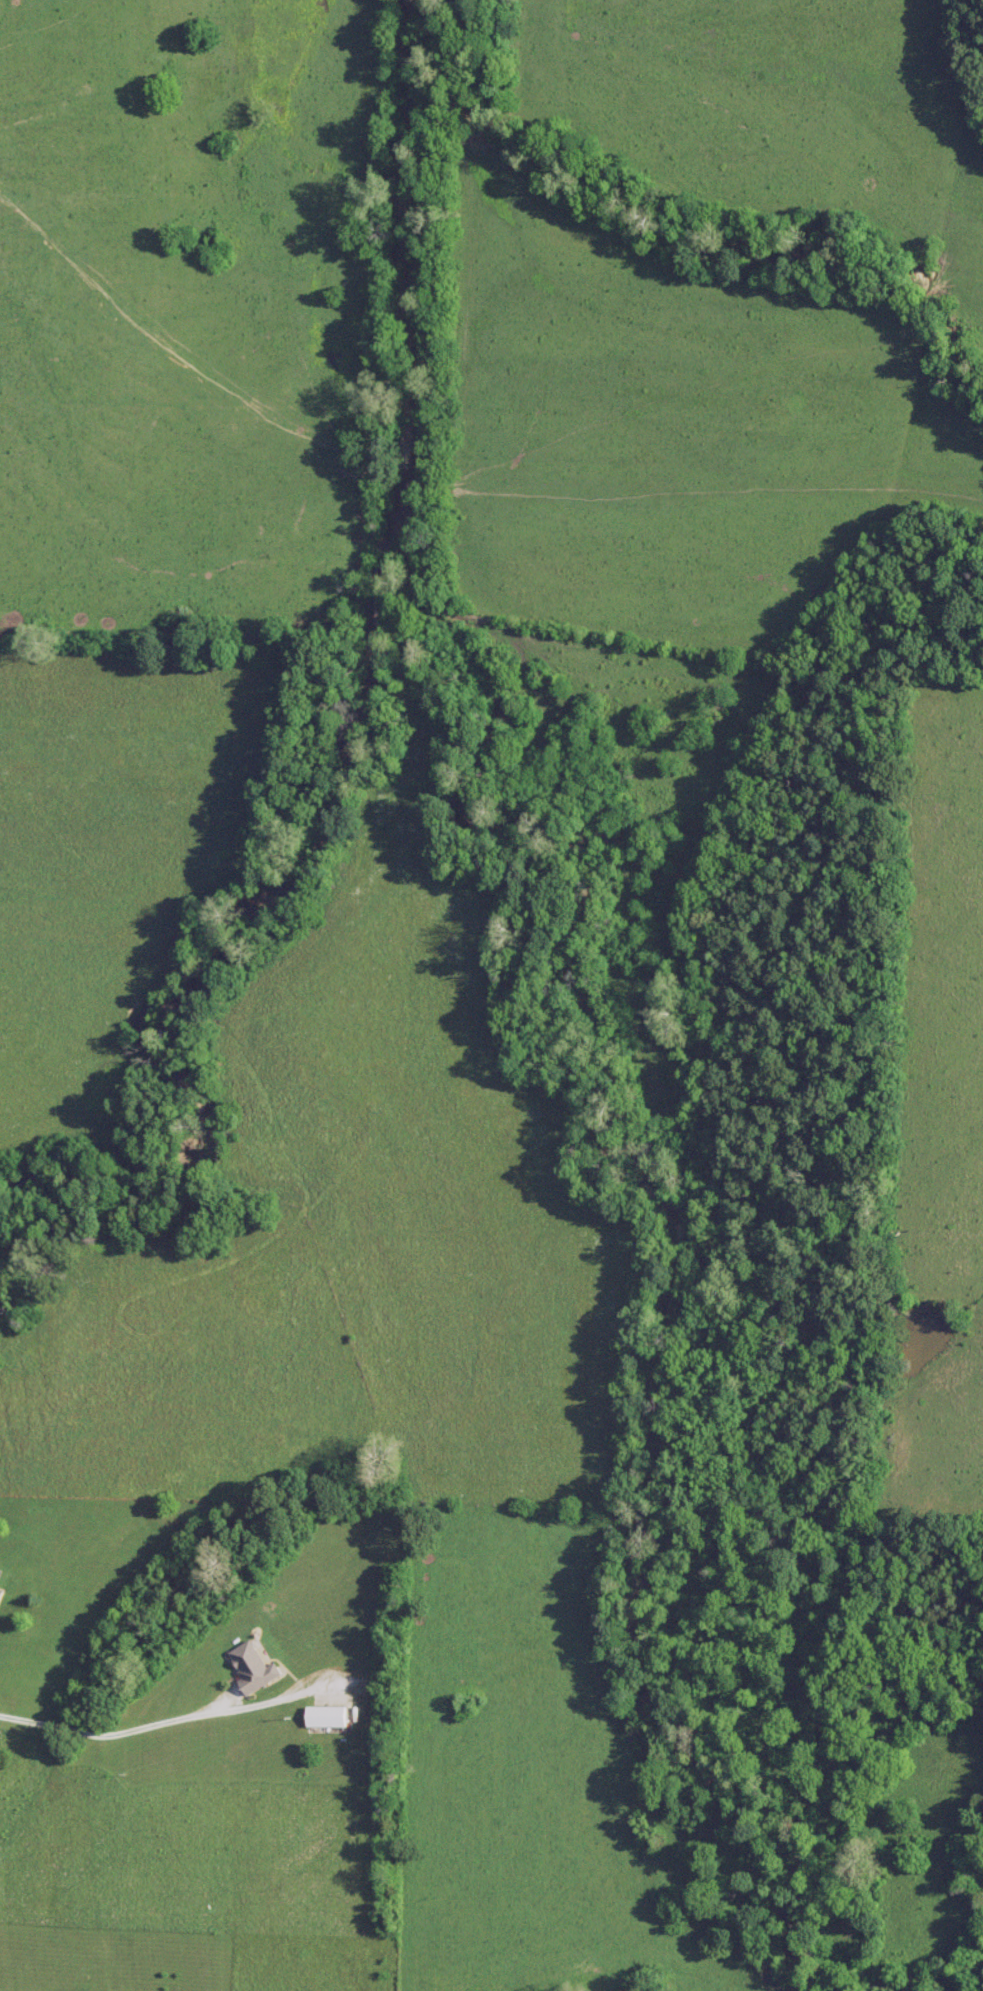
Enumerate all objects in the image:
building: (2, 1592)
building: (254, 1667)
building: (328, 1716)
road: (113, 1734)

